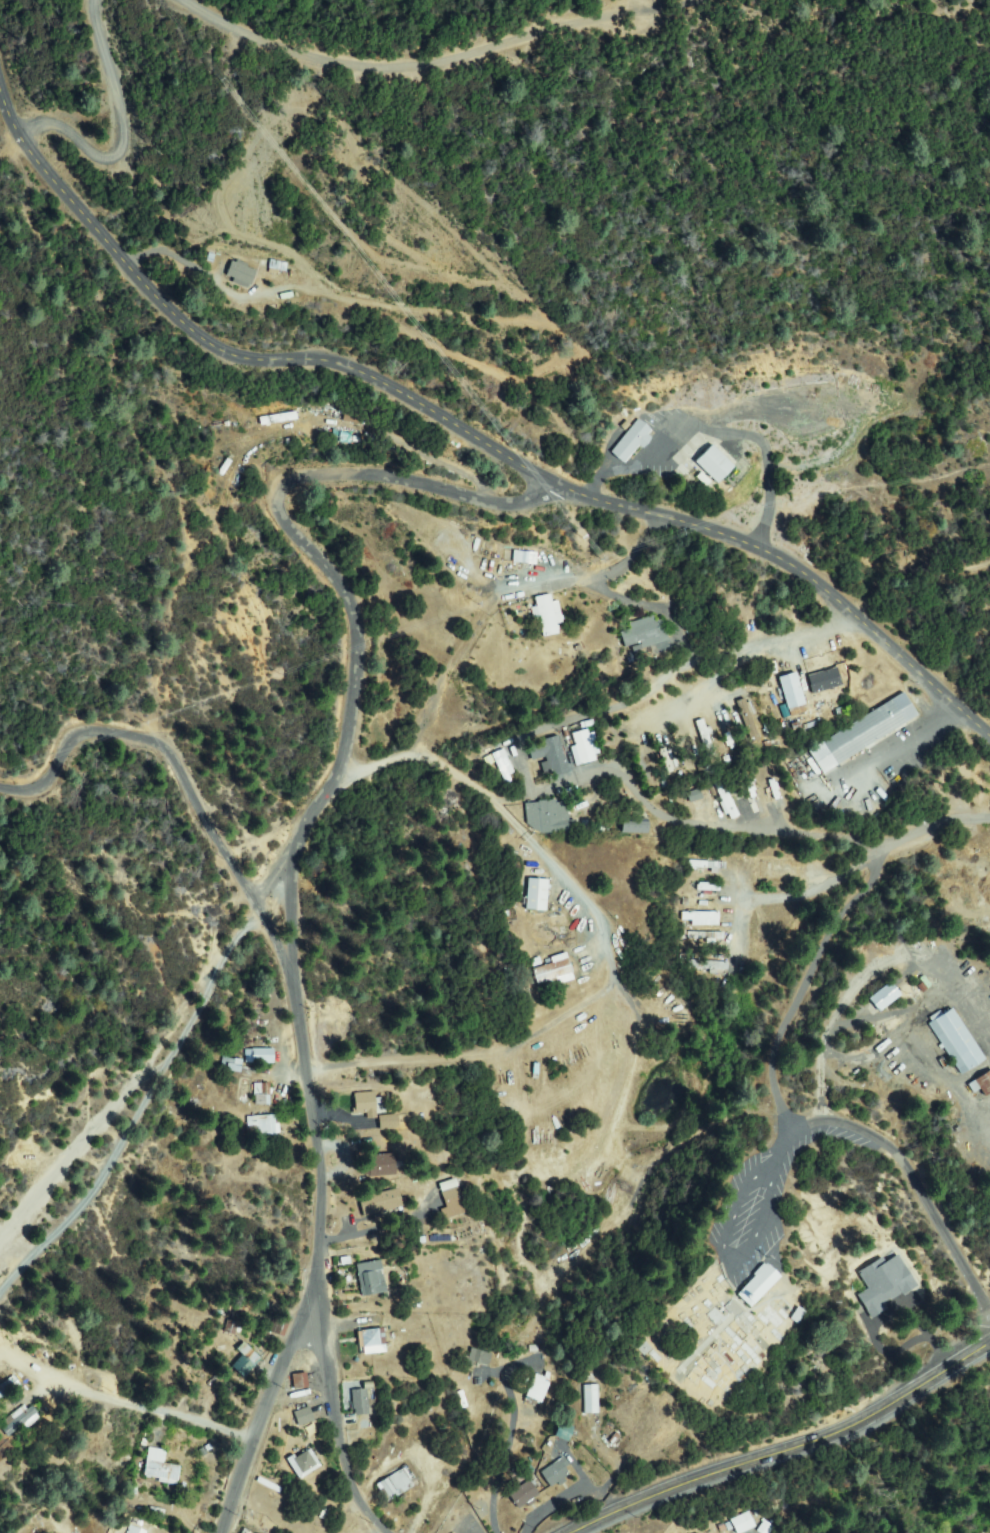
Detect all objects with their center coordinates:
road: (435, 65)
road: (127, 109)
building: (241, 274)
road: (248, 354)
building: (632, 442)
building: (713, 465)
road: (282, 500)
building: (506, 555)
building: (525, 557)
road: (923, 589)
building: (547, 614)
building: (645, 632)
building: (576, 650)
road: (599, 687)
building: (811, 689)
building: (784, 694)
building: (742, 720)
building: (720, 730)
building: (858, 733)
building: (697, 735)
building: (585, 748)
building: (660, 753)
building: (549, 754)
building: (640, 759)
road: (185, 767)
building: (504, 768)
building: (955, 778)
building: (770, 793)
building: (694, 795)
building: (721, 801)
building: (745, 801)
building: (550, 818)
building: (634, 826)
building: (704, 864)
building: (773, 870)
building: (700, 891)
building: (537, 895)
building: (700, 918)
building: (700, 935)
road: (233, 947)
building: (703, 964)
road: (856, 968)
building: (554, 973)
building: (884, 997)
building: (956, 1041)
building: (260, 1057)
road: (768, 1060)
building: (232, 1066)
building: (982, 1084)
building: (262, 1095)
building: (365, 1105)
building: (388, 1123)
building: (263, 1127)
road: (121, 1158)
building: (379, 1166)
road: (766, 1170)
building: (452, 1199)
building: (380, 1202)
building: (463, 1231)
building: (371, 1278)
building: (884, 1284)
building: (745, 1286)
building: (758, 1286)
building: (279, 1327)
building: (231, 1328)
park: (737, 1330)
building: (372, 1341)
building: (479, 1357)
building: (246, 1360)
building: (299, 1381)
building: (10, 1386)
building: (537, 1389)
road: (275, 1399)
building: (591, 1400)
building: (360, 1403)
road: (334, 1407)
building: (304, 1417)
building: (19, 1420)
building: (529, 1426)
building: (564, 1433)
road: (787, 1442)
road: (570, 1443)
building: (305, 1464)
building: (161, 1466)
building: (556, 1473)
building: (395, 1485)
building: (524, 1495)
building: (741, 1522)
building: (765, 1528)
building: (134, 1531)

